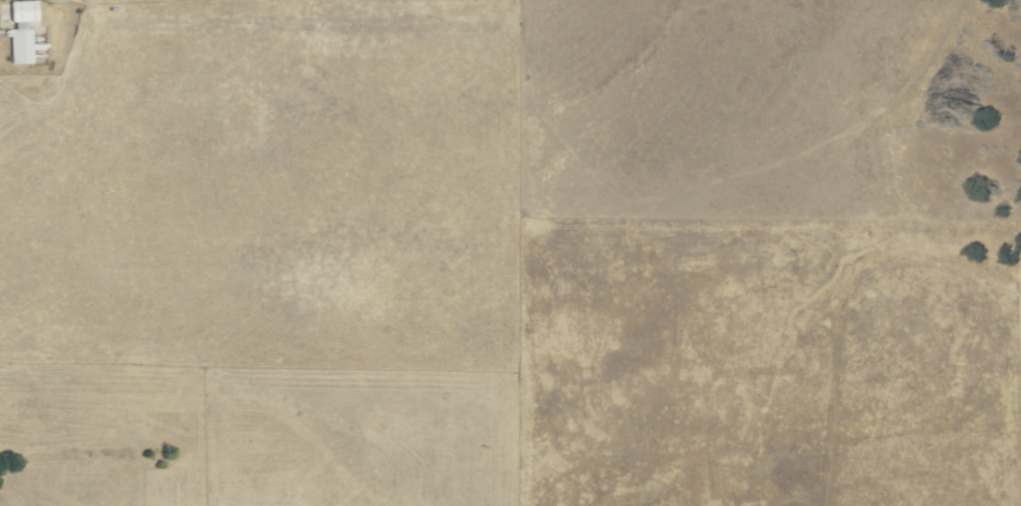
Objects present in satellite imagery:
building: (21, 31)
road: (718, 182)
crop: (392, 227)

